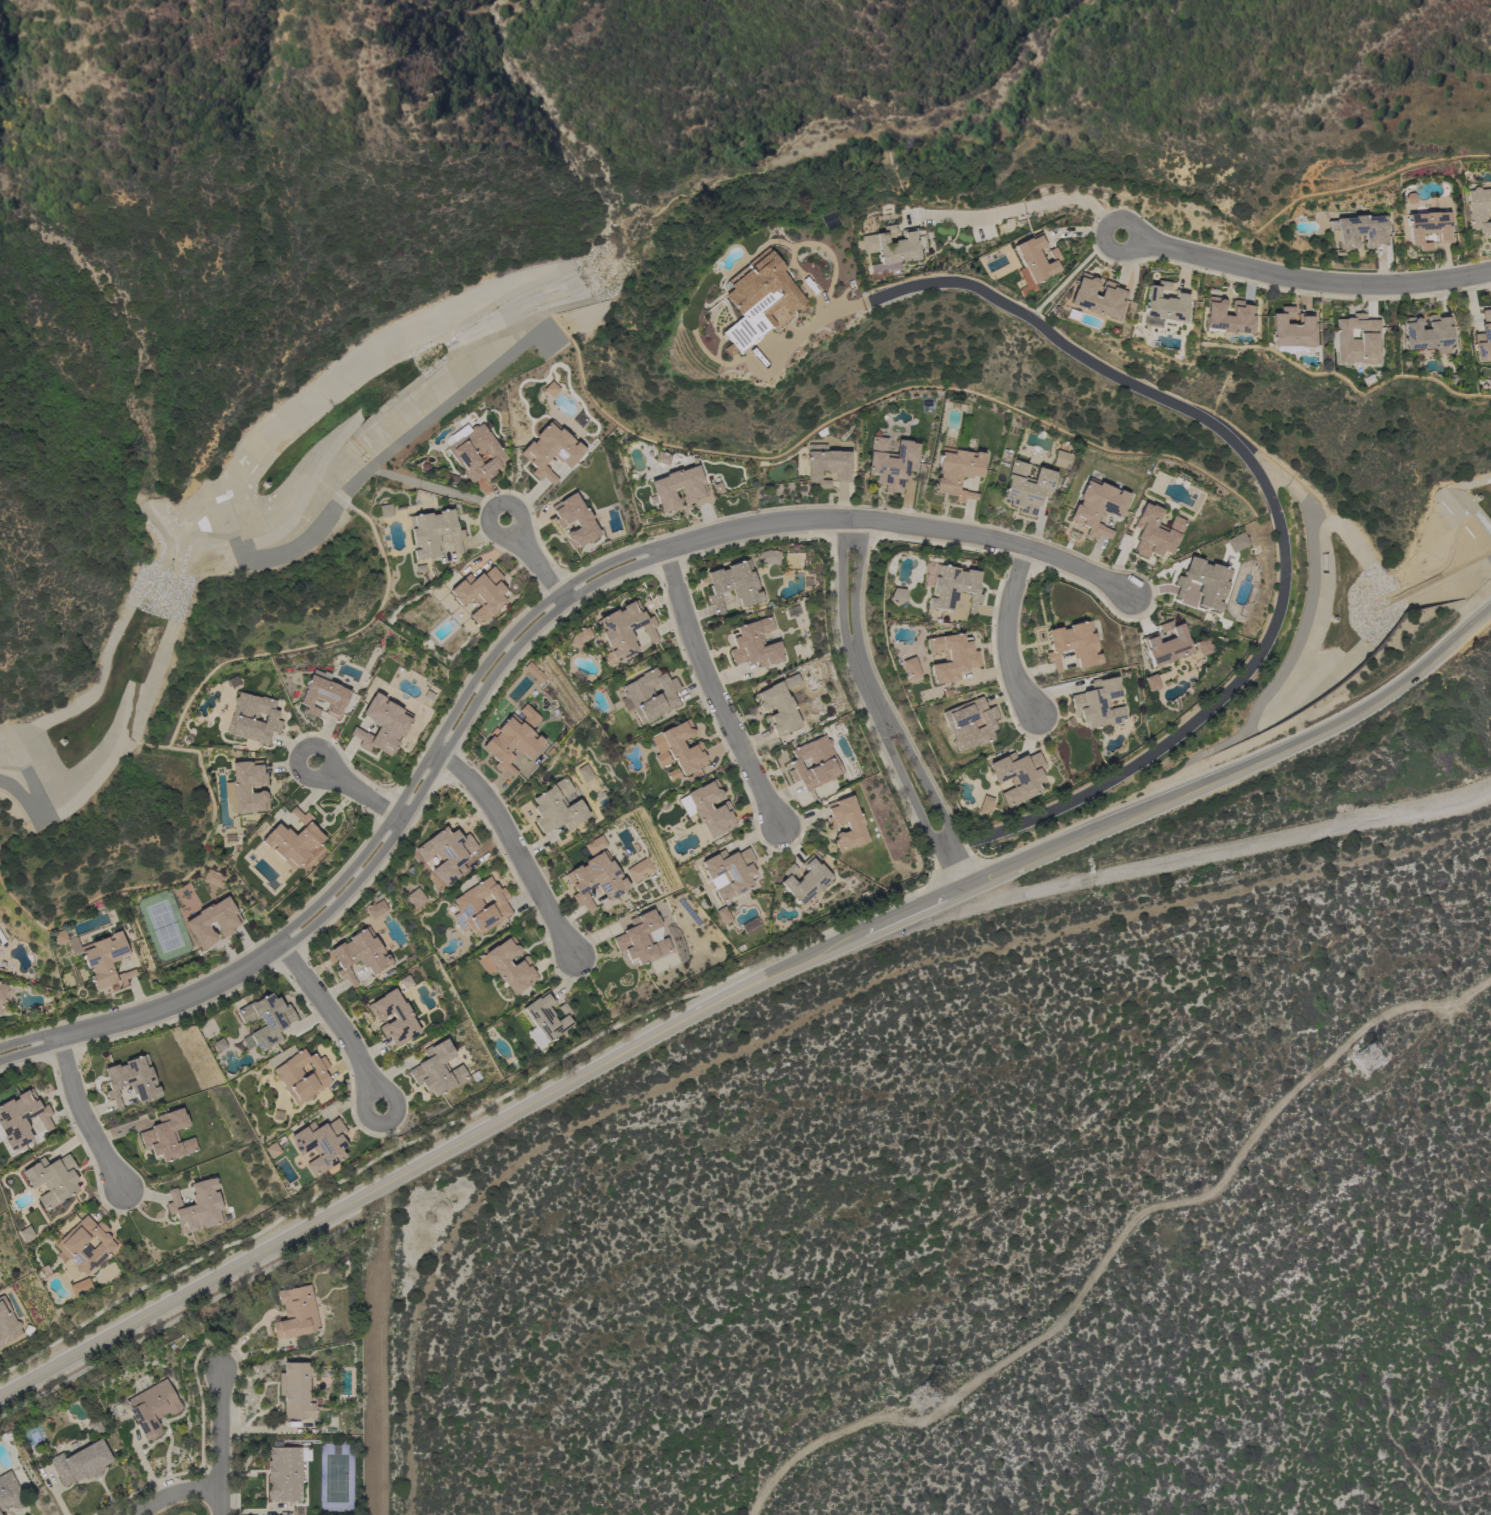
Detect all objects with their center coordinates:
road: (1033, 205)
building: (1479, 210)
building: (1428, 228)
building: (1359, 231)
building: (893, 246)
building: (1035, 258)
road: (1307, 277)
building: (1111, 296)
building: (749, 299)
building: (1165, 304)
building: (1227, 317)
building: (1290, 330)
building: (1427, 334)
building: (1483, 338)
building: (1357, 340)
building: (550, 389)
building: (550, 451)
building: (476, 454)
building: (661, 457)
building: (1061, 459)
building: (891, 463)
road: (1251, 466)
building: (828, 467)
building: (957, 473)
building: (1027, 488)
building: (692, 489)
road: (494, 505)
building: (1097, 507)
building: (383, 510)
building: (575, 521)
building: (433, 532)
building: (1155, 533)
building: (1236, 541)
building: (767, 556)
road: (536, 566)
building: (1204, 583)
building: (733, 585)
building: (949, 586)
building: (480, 594)
building: (896, 595)
road: (847, 624)
road: (524, 631)
building: (623, 631)
road: (1003, 633)
building: (578, 637)
building: (754, 644)
building: (1073, 645)
building: (1166, 645)
building: (1203, 646)
building: (950, 657)
building: (909, 667)
building: (533, 672)
building: (1150, 682)
road: (711, 692)
building: (649, 695)
building: (324, 697)
building: (1098, 704)
building: (777, 707)
building: (253, 718)
building: (969, 724)
building: (382, 725)
building: (513, 739)
road: (114, 748)
building: (679, 748)
road: (298, 753)
building: (814, 763)
road: (1238, 767)
building: (585, 773)
building: (1017, 776)
road: (922, 782)
building: (245, 788)
road: (905, 789)
road: (361, 795)
building: (984, 805)
building: (557, 808)
building: (707, 808)
building: (845, 823)
building: (601, 839)
building: (292, 840)
road: (516, 846)
building: (446, 853)
road: (1210, 853)
building: (631, 868)
road: (953, 868)
building: (729, 872)
building: (213, 878)
building: (595, 879)
building: (804, 880)
building: (414, 897)
building: (480, 907)
building: (375, 909)
road: (906, 911)
building: (722, 916)
building: (212, 922)
building: (749, 925)
building: (1, 939)
building: (642, 939)
building: (359, 954)
building: (99, 957)
building: (507, 965)
building: (405, 982)
building: (2, 990)
road: (328, 1018)
building: (402, 1018)
building: (544, 1019)
building: (264, 1021)
road: (28, 1039)
building: (216, 1044)
road: (29, 1052)
power tower: (1369, 1061)
building: (437, 1069)
building: (301, 1076)
building: (131, 1080)
road: (472, 1112)
road: (82, 1115)
building: (21, 1118)
road: (383, 1123)
building: (167, 1137)
building: (320, 1144)
building: (270, 1150)
road: (423, 1160)
building: (52, 1179)
building: (196, 1207)
building: (85, 1245)
building: (80, 1287)
building: (295, 1313)
road: (178, 1318)
building: (7, 1323)
building: (295, 1391)
power tower: (922, 1401)
building: (152, 1408)
building: (95, 1427)
road: (219, 1442)
building: (80, 1463)
building: (285, 1473)
building: (9, 1491)
road: (172, 1496)

